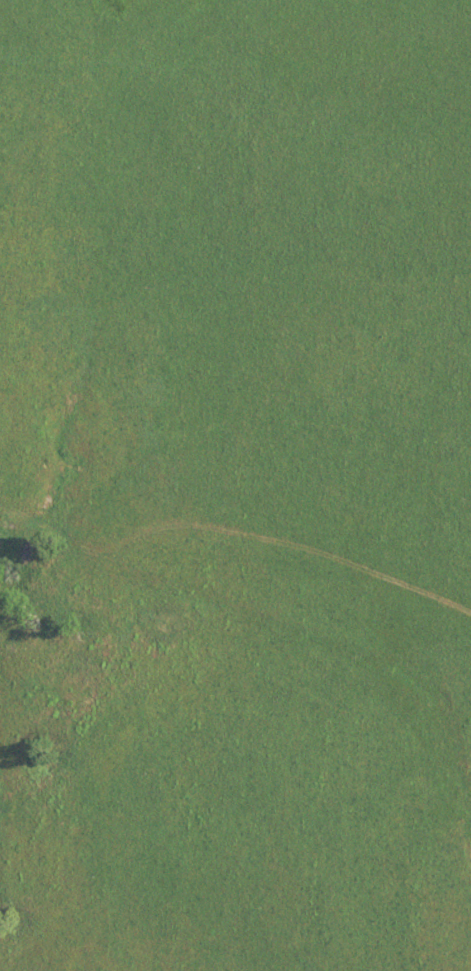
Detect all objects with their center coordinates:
road: (235, 532)

